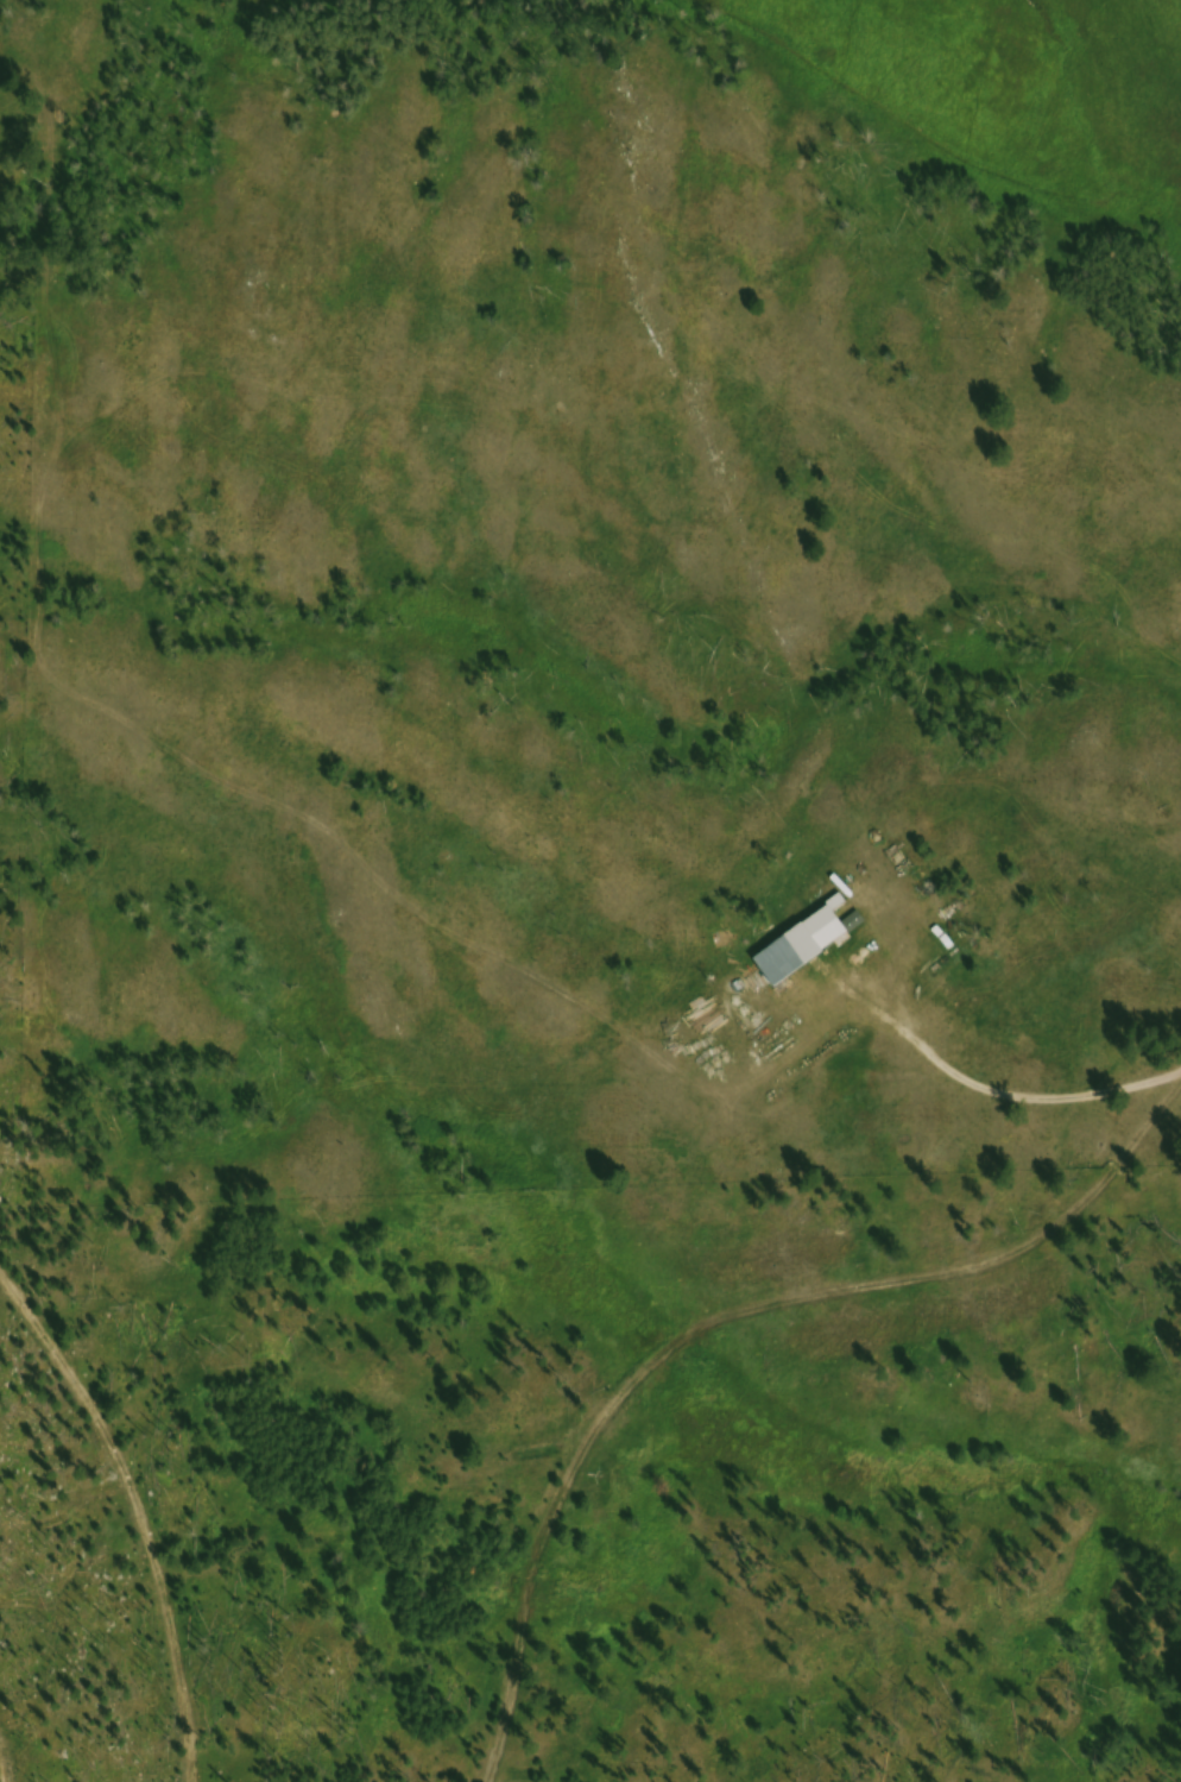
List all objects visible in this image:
building: (802, 953)

